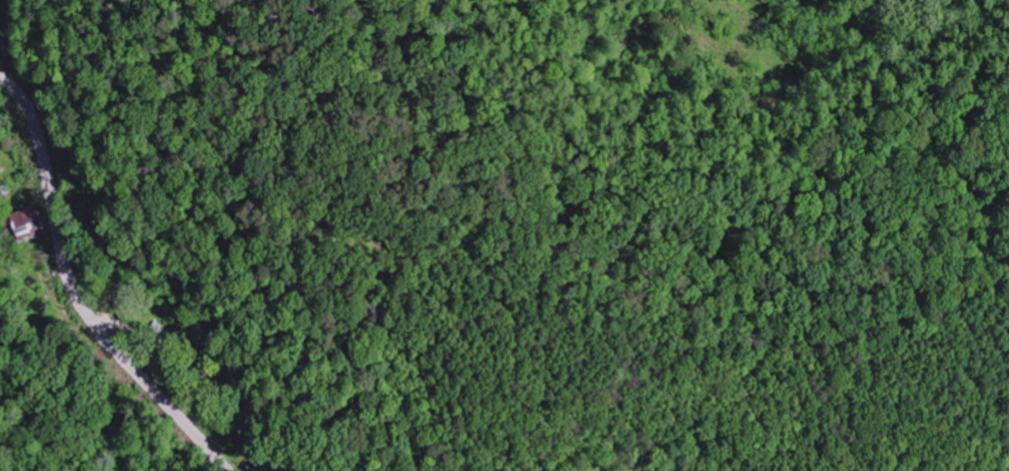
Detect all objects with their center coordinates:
building: (29, 222)
road: (76, 295)
road: (112, 329)

